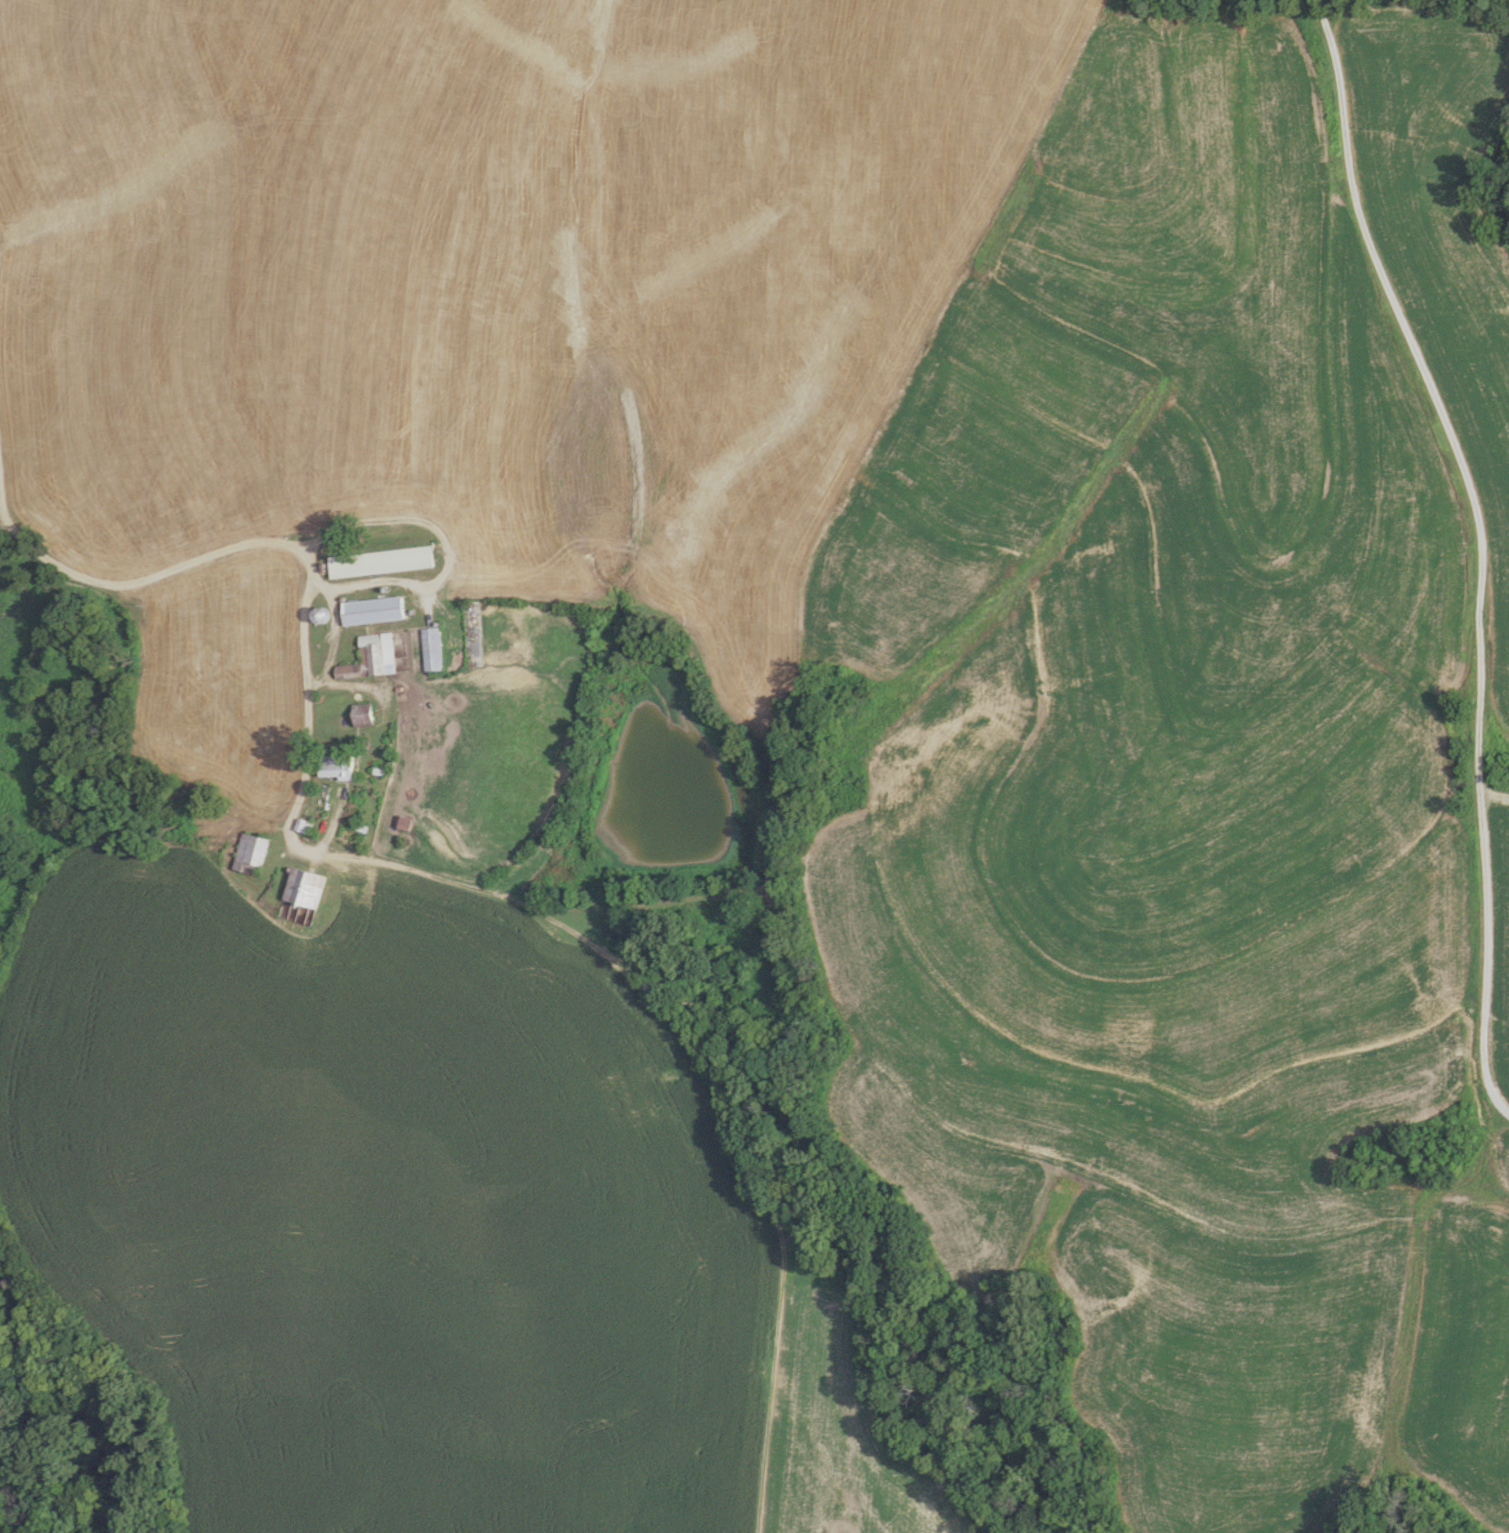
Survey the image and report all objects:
road: (1477, 549)
road: (438, 554)
road: (297, 559)
building: (378, 562)
building: (369, 611)
road: (323, 643)
building: (430, 648)
building: (369, 657)
road: (342, 685)
building: (360, 719)
building: (333, 766)
building: (401, 822)
building: (301, 826)
building: (249, 854)
building: (302, 887)

